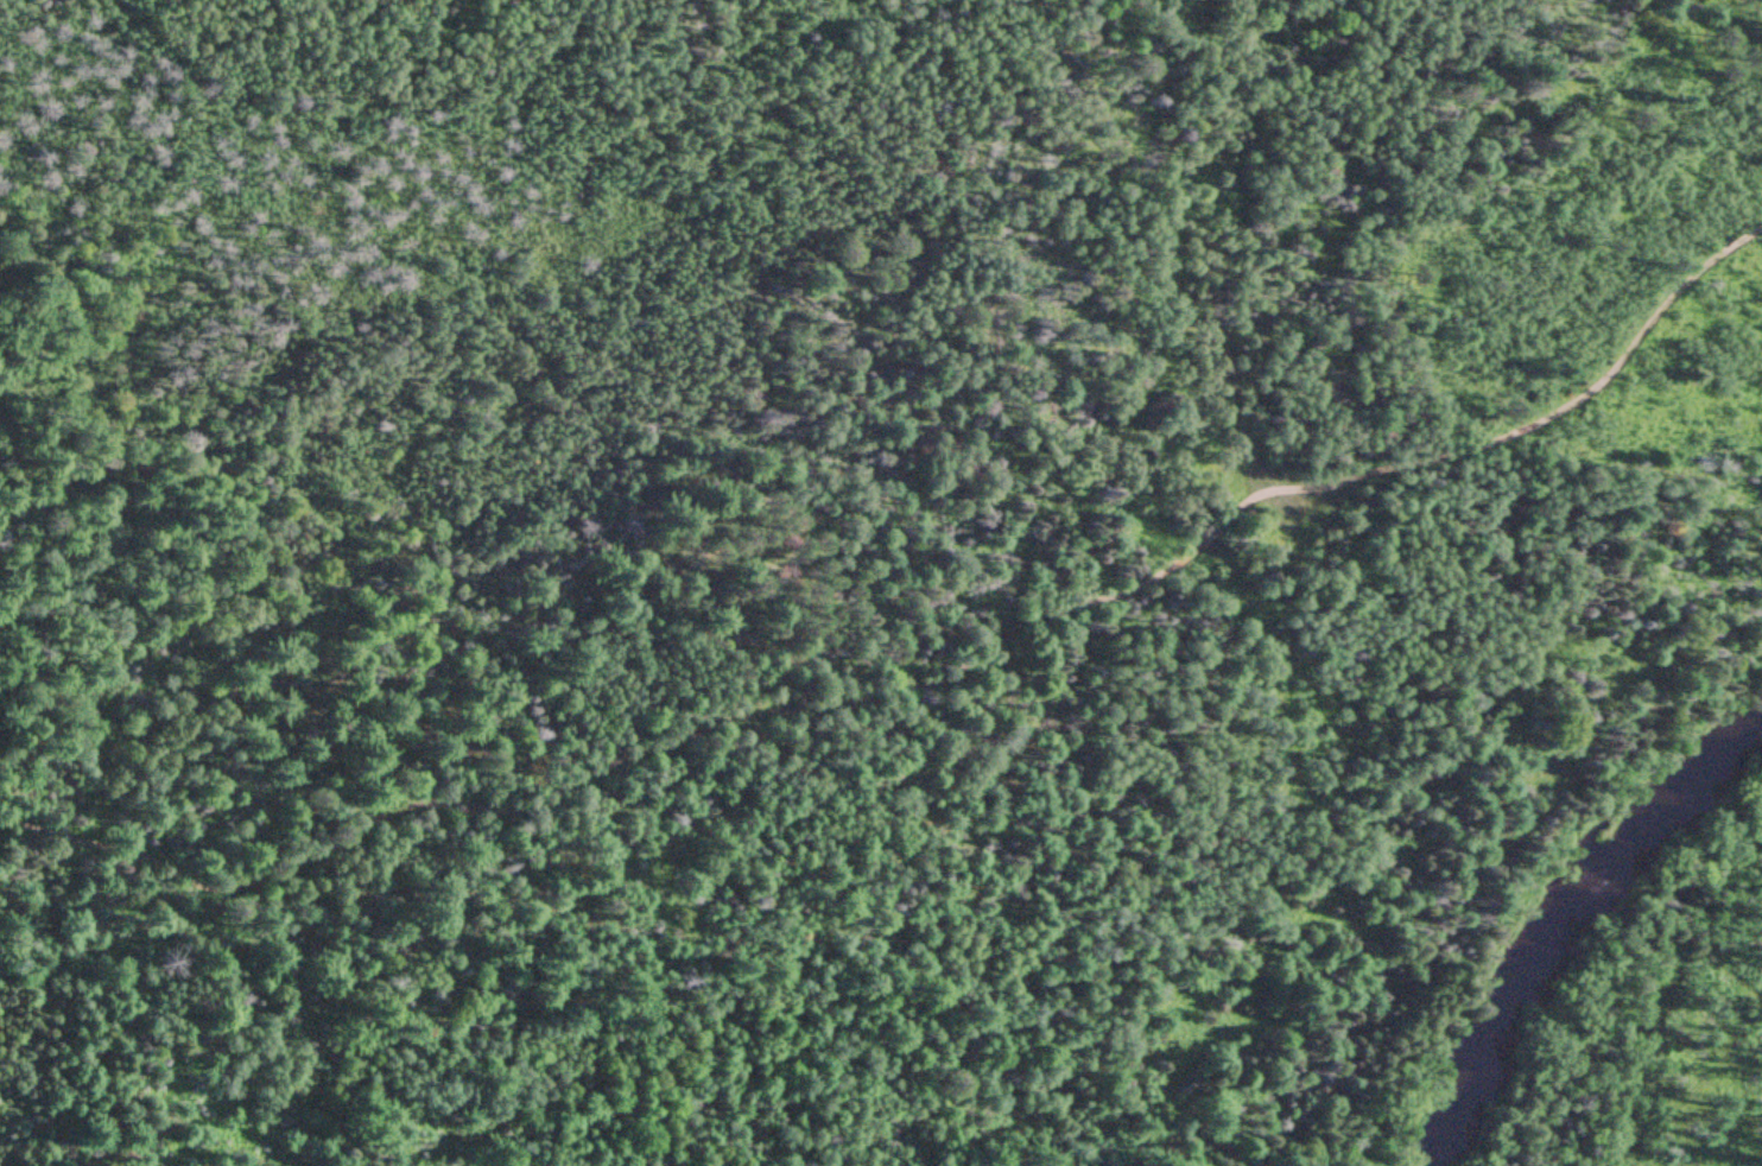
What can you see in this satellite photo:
river: (1571, 924)

